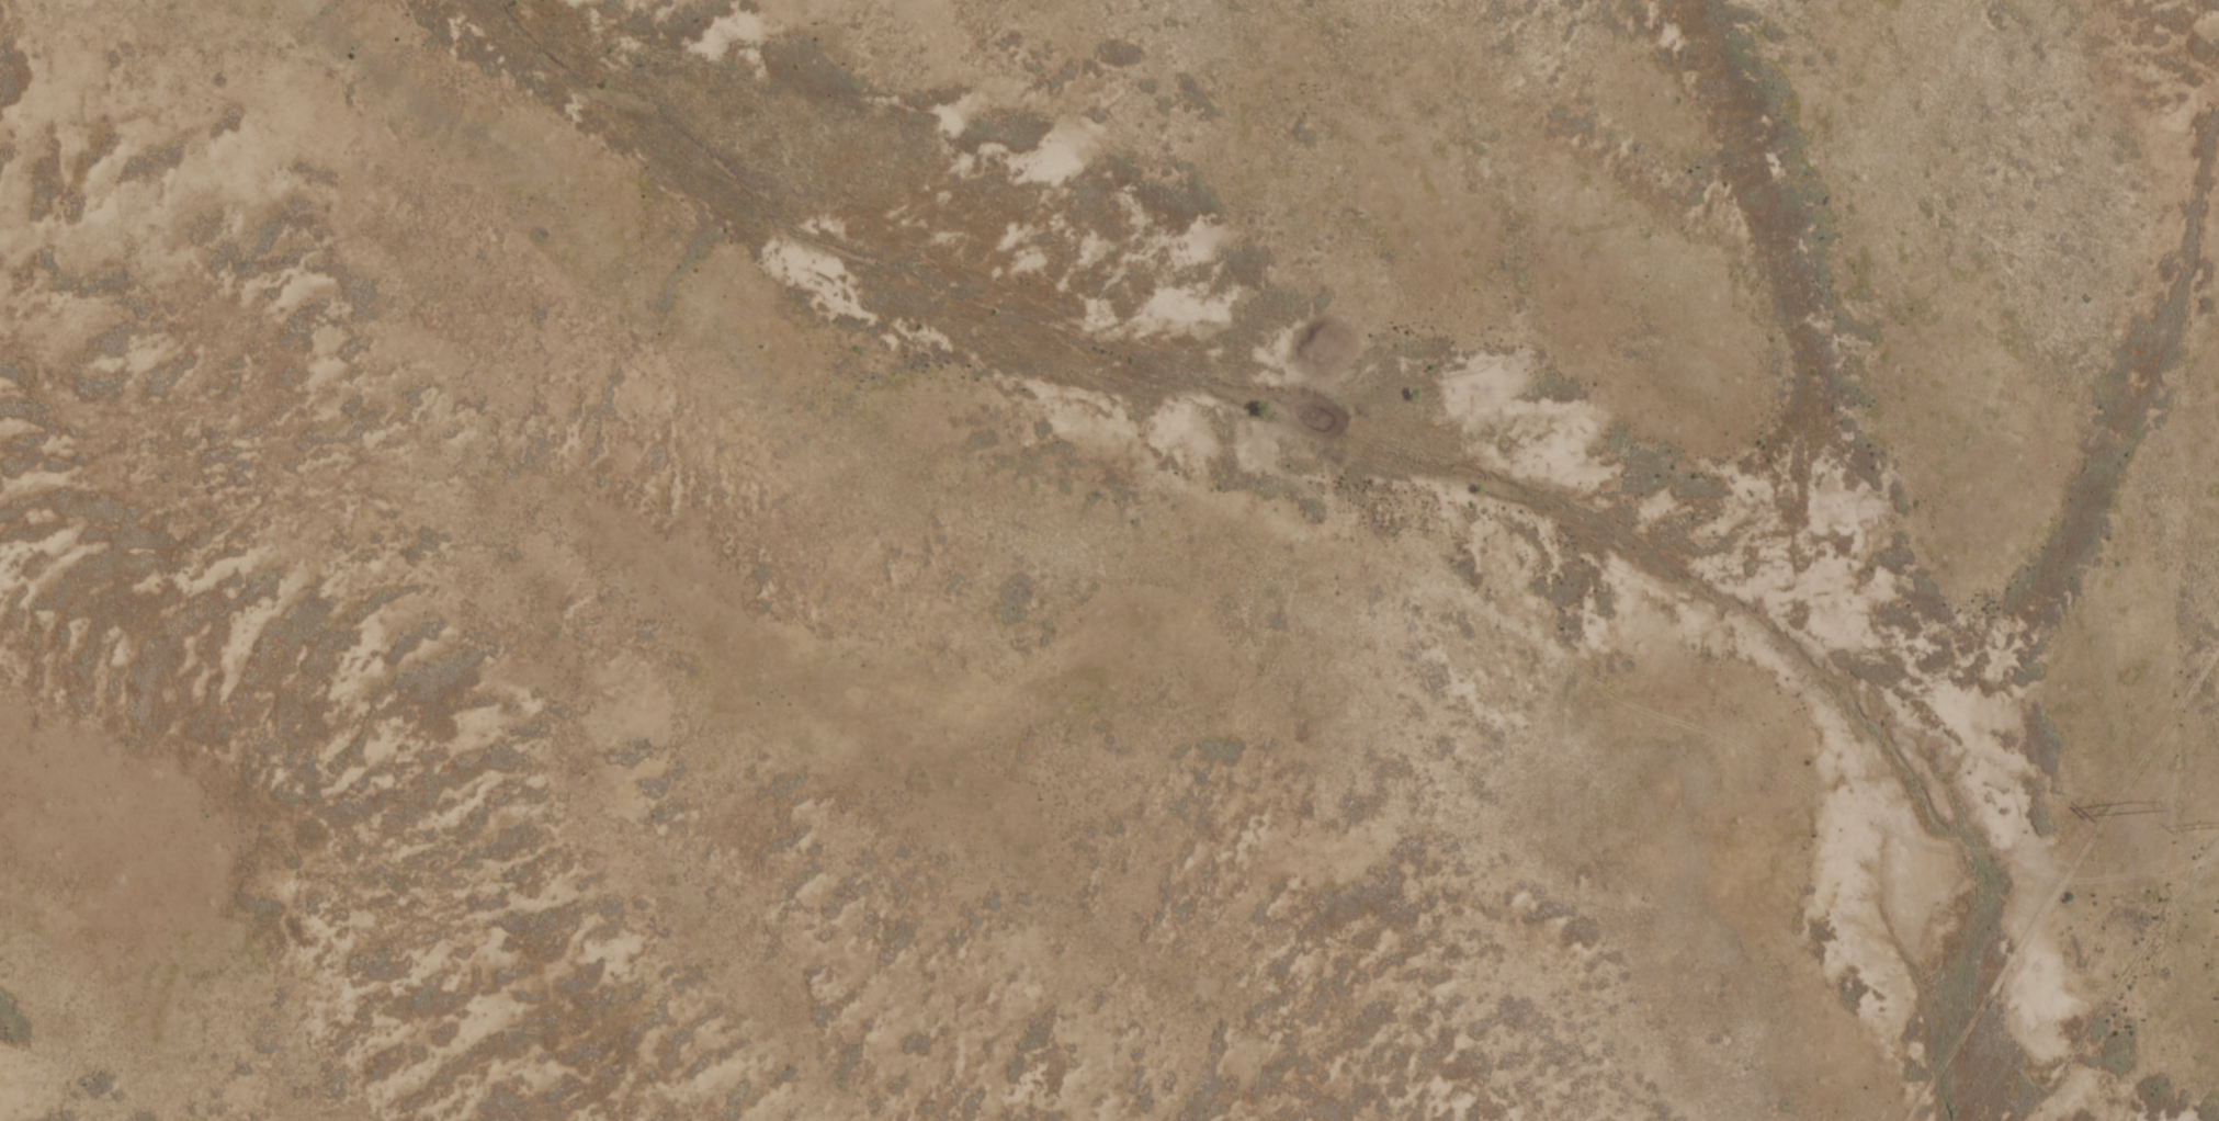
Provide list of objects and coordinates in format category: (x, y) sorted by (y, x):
power tower: (2135, 808)

